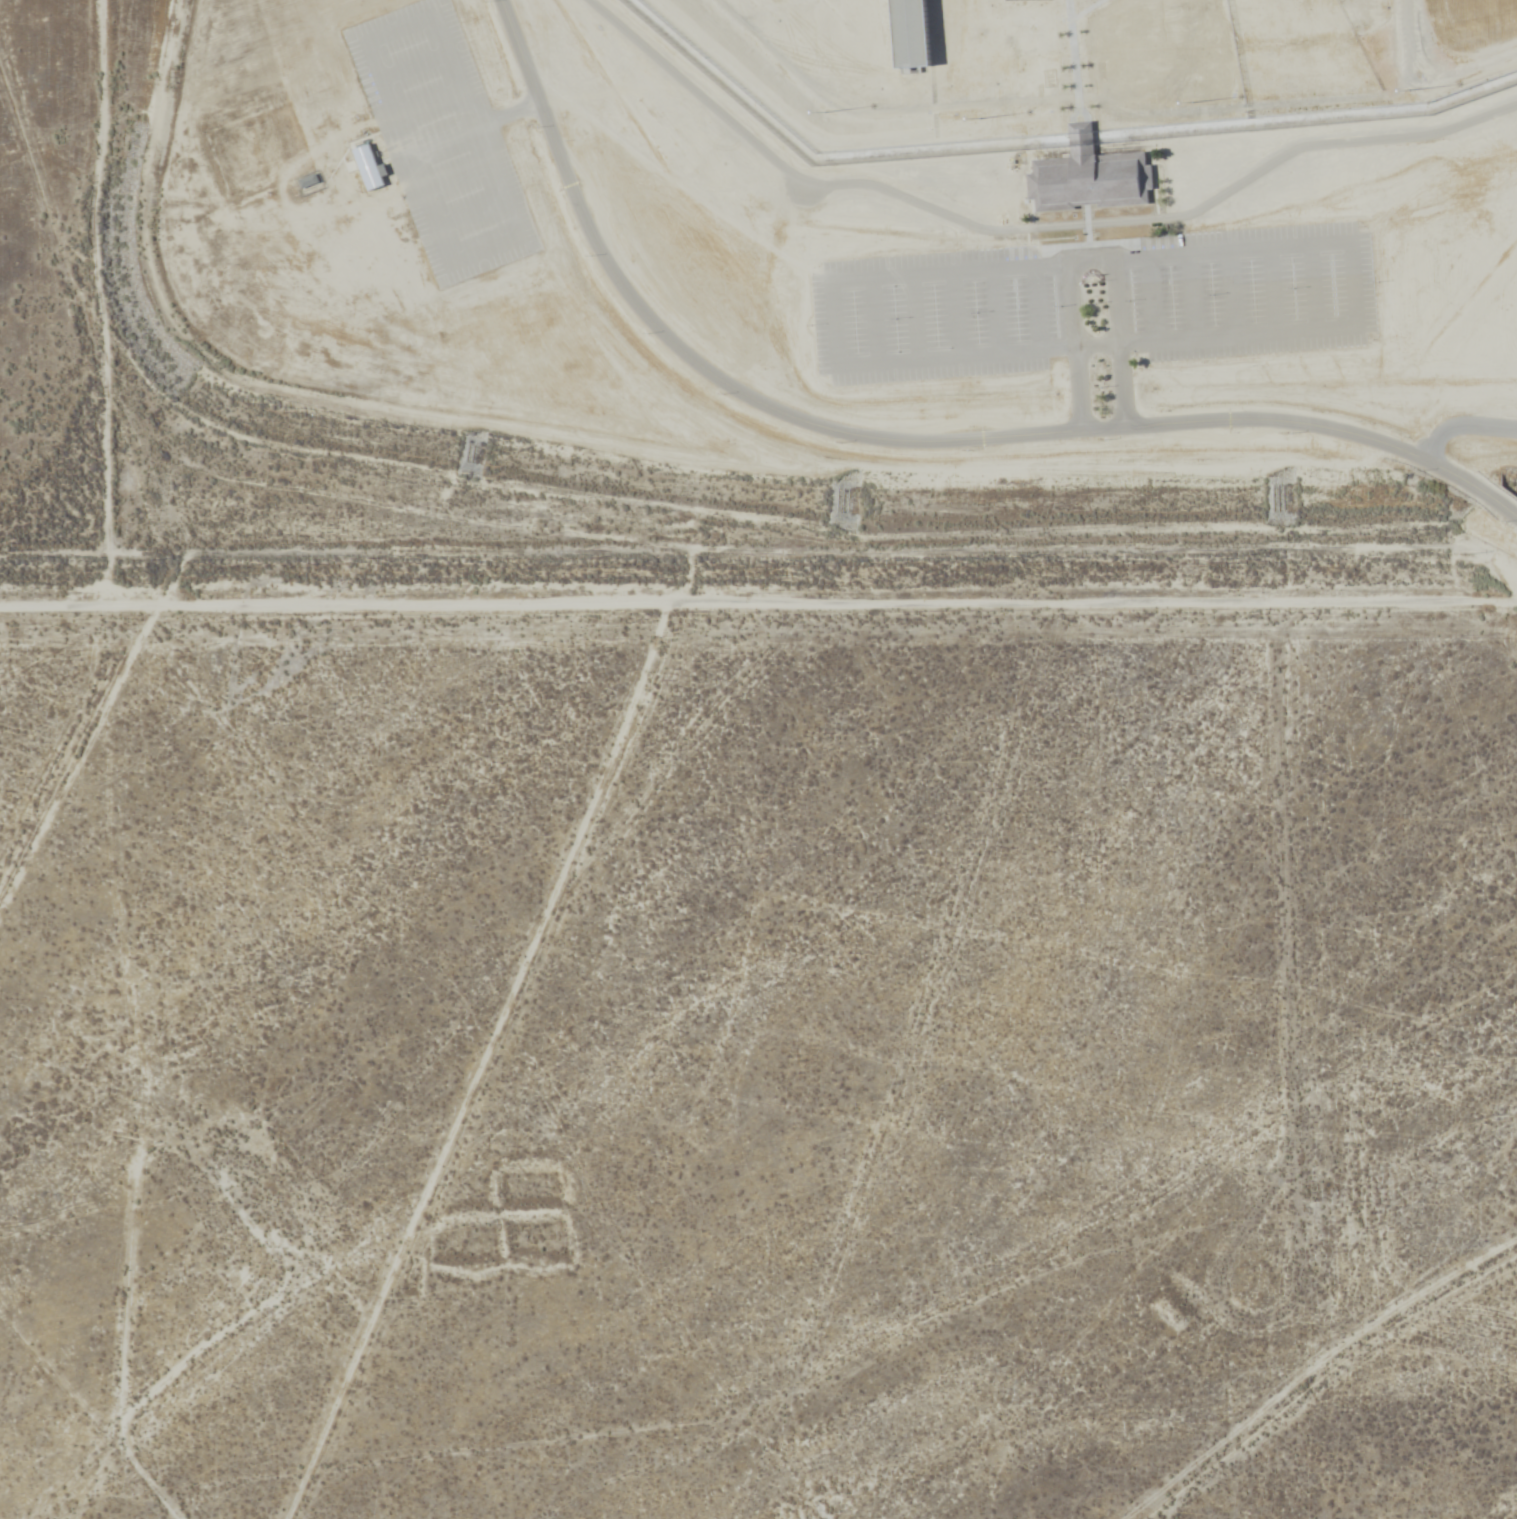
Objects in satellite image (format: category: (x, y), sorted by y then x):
building: (1029, 0)
park: (1472, 20)
building: (910, 32)
road: (414, 64)
road: (428, 102)
road: (473, 125)
parking lot: (441, 139)
building: (367, 166)
road: (455, 174)
building: (1089, 174)
road: (471, 213)
road: (1027, 227)
road: (1087, 232)
road: (517, 234)
road: (1088, 242)
road: (1068, 260)
road: (1313, 286)
road: (1272, 289)
road: (1232, 292)
road: (1192, 295)
road: (1150, 298)
parking lot: (1094, 301)
road: (1036, 307)
road: (994, 310)
road: (956, 313)
road: (916, 316)
road: (875, 319)
road: (1119, 342)
road: (1075, 345)
road: (867, 434)
road: (1489, 496)

